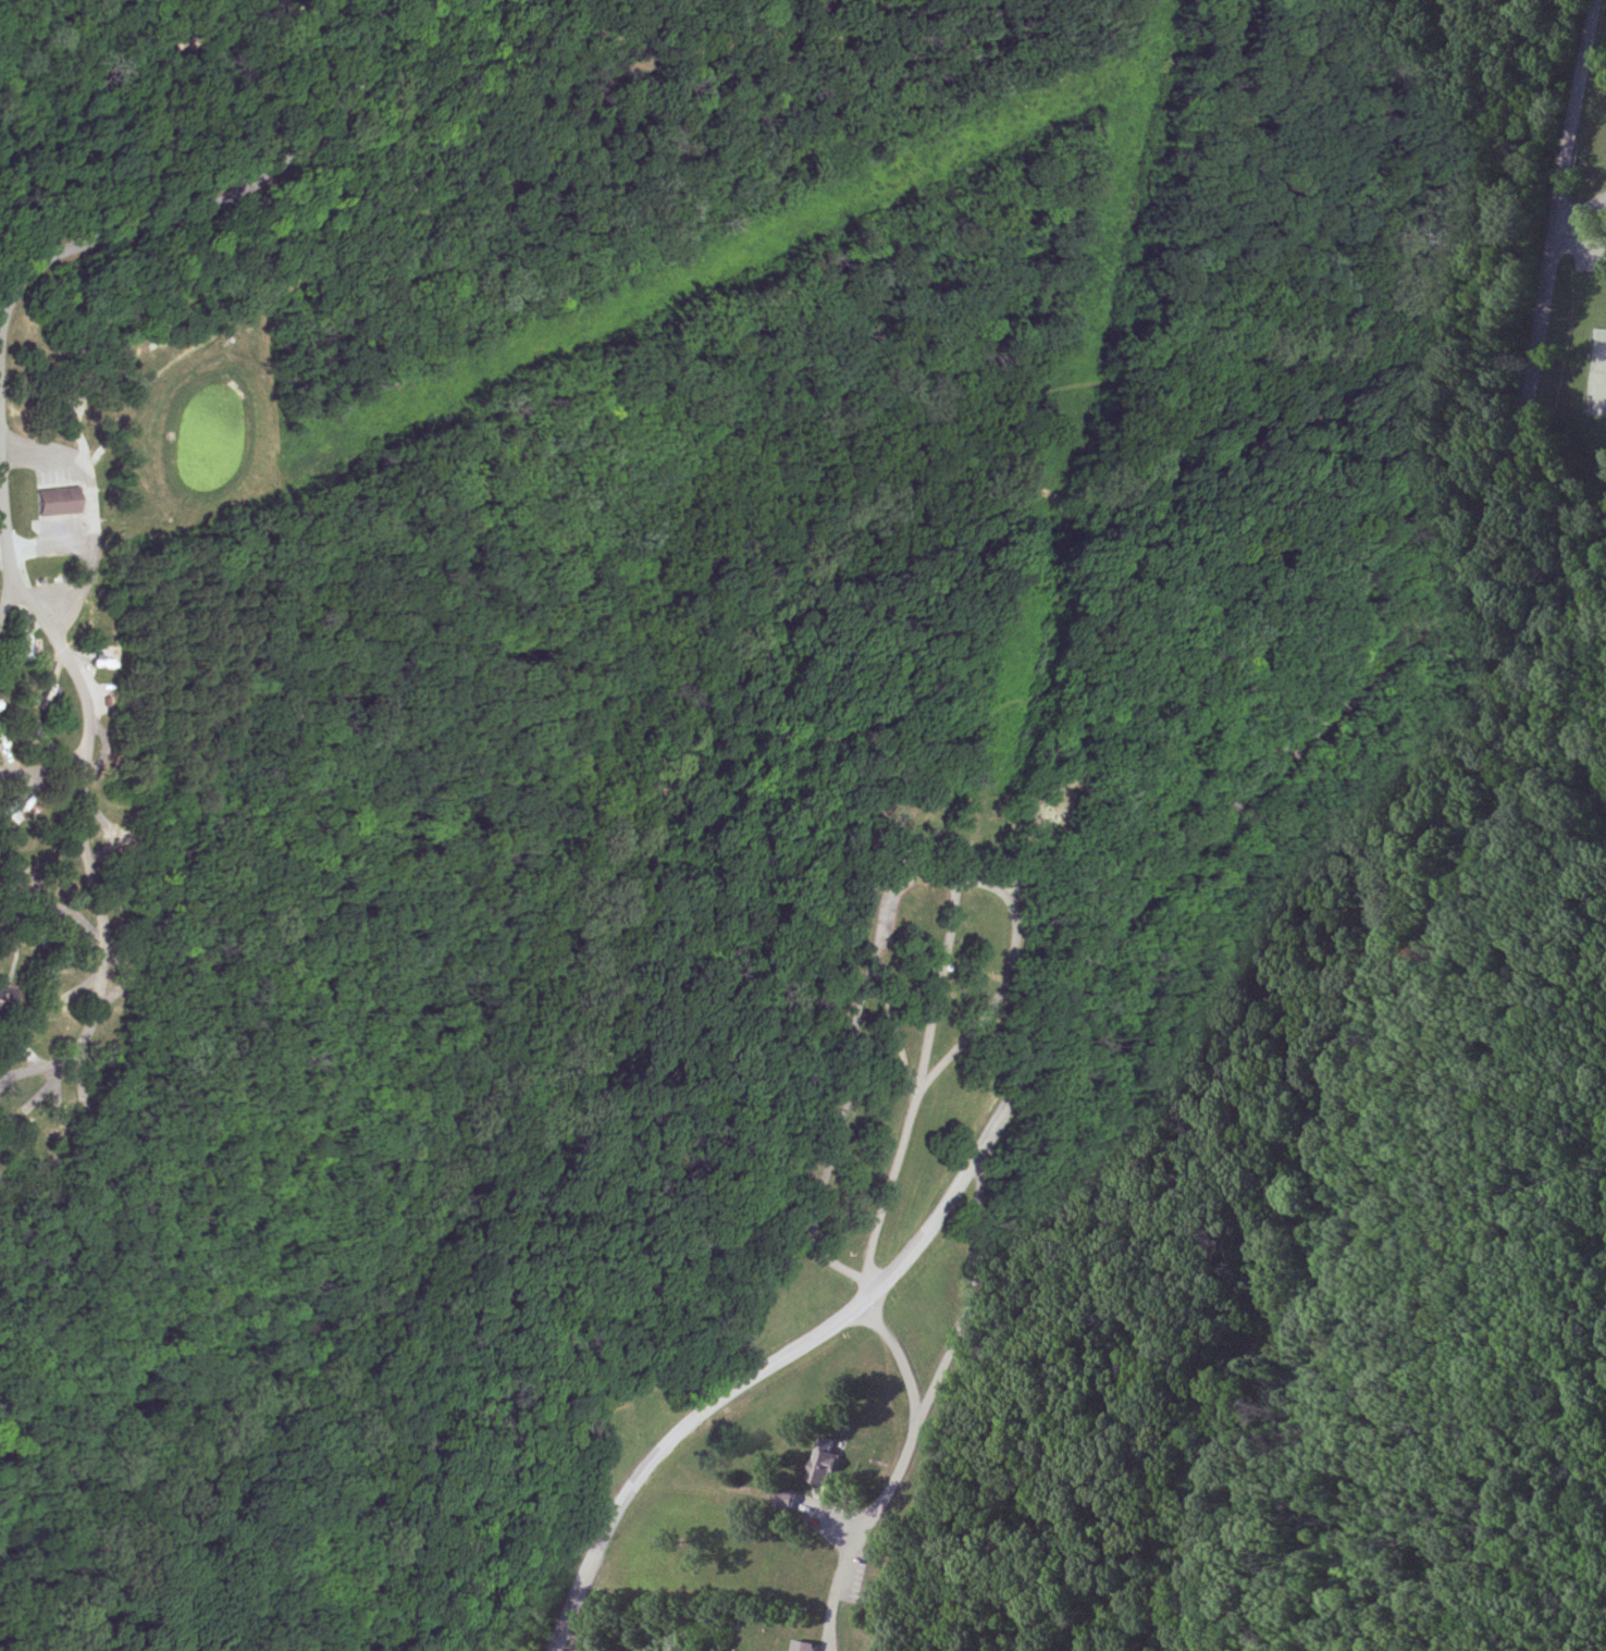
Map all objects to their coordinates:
road: (223, 200)
road: (1579, 215)
parking lot: (1591, 249)
park: (1598, 369)
road: (1432, 497)
building: (59, 501)
road: (58, 521)
road: (22, 638)
road: (180, 679)
road: (88, 752)
road: (44, 785)
park: (803, 825)
road: (1168, 873)
road: (23, 919)
road: (1014, 927)
road: (1121, 958)
road: (39, 974)
road: (512, 1001)
road: (231, 1064)
road: (837, 1112)
road: (868, 1271)
road: (252, 1419)
building: (826, 1462)
building: (802, 1646)

